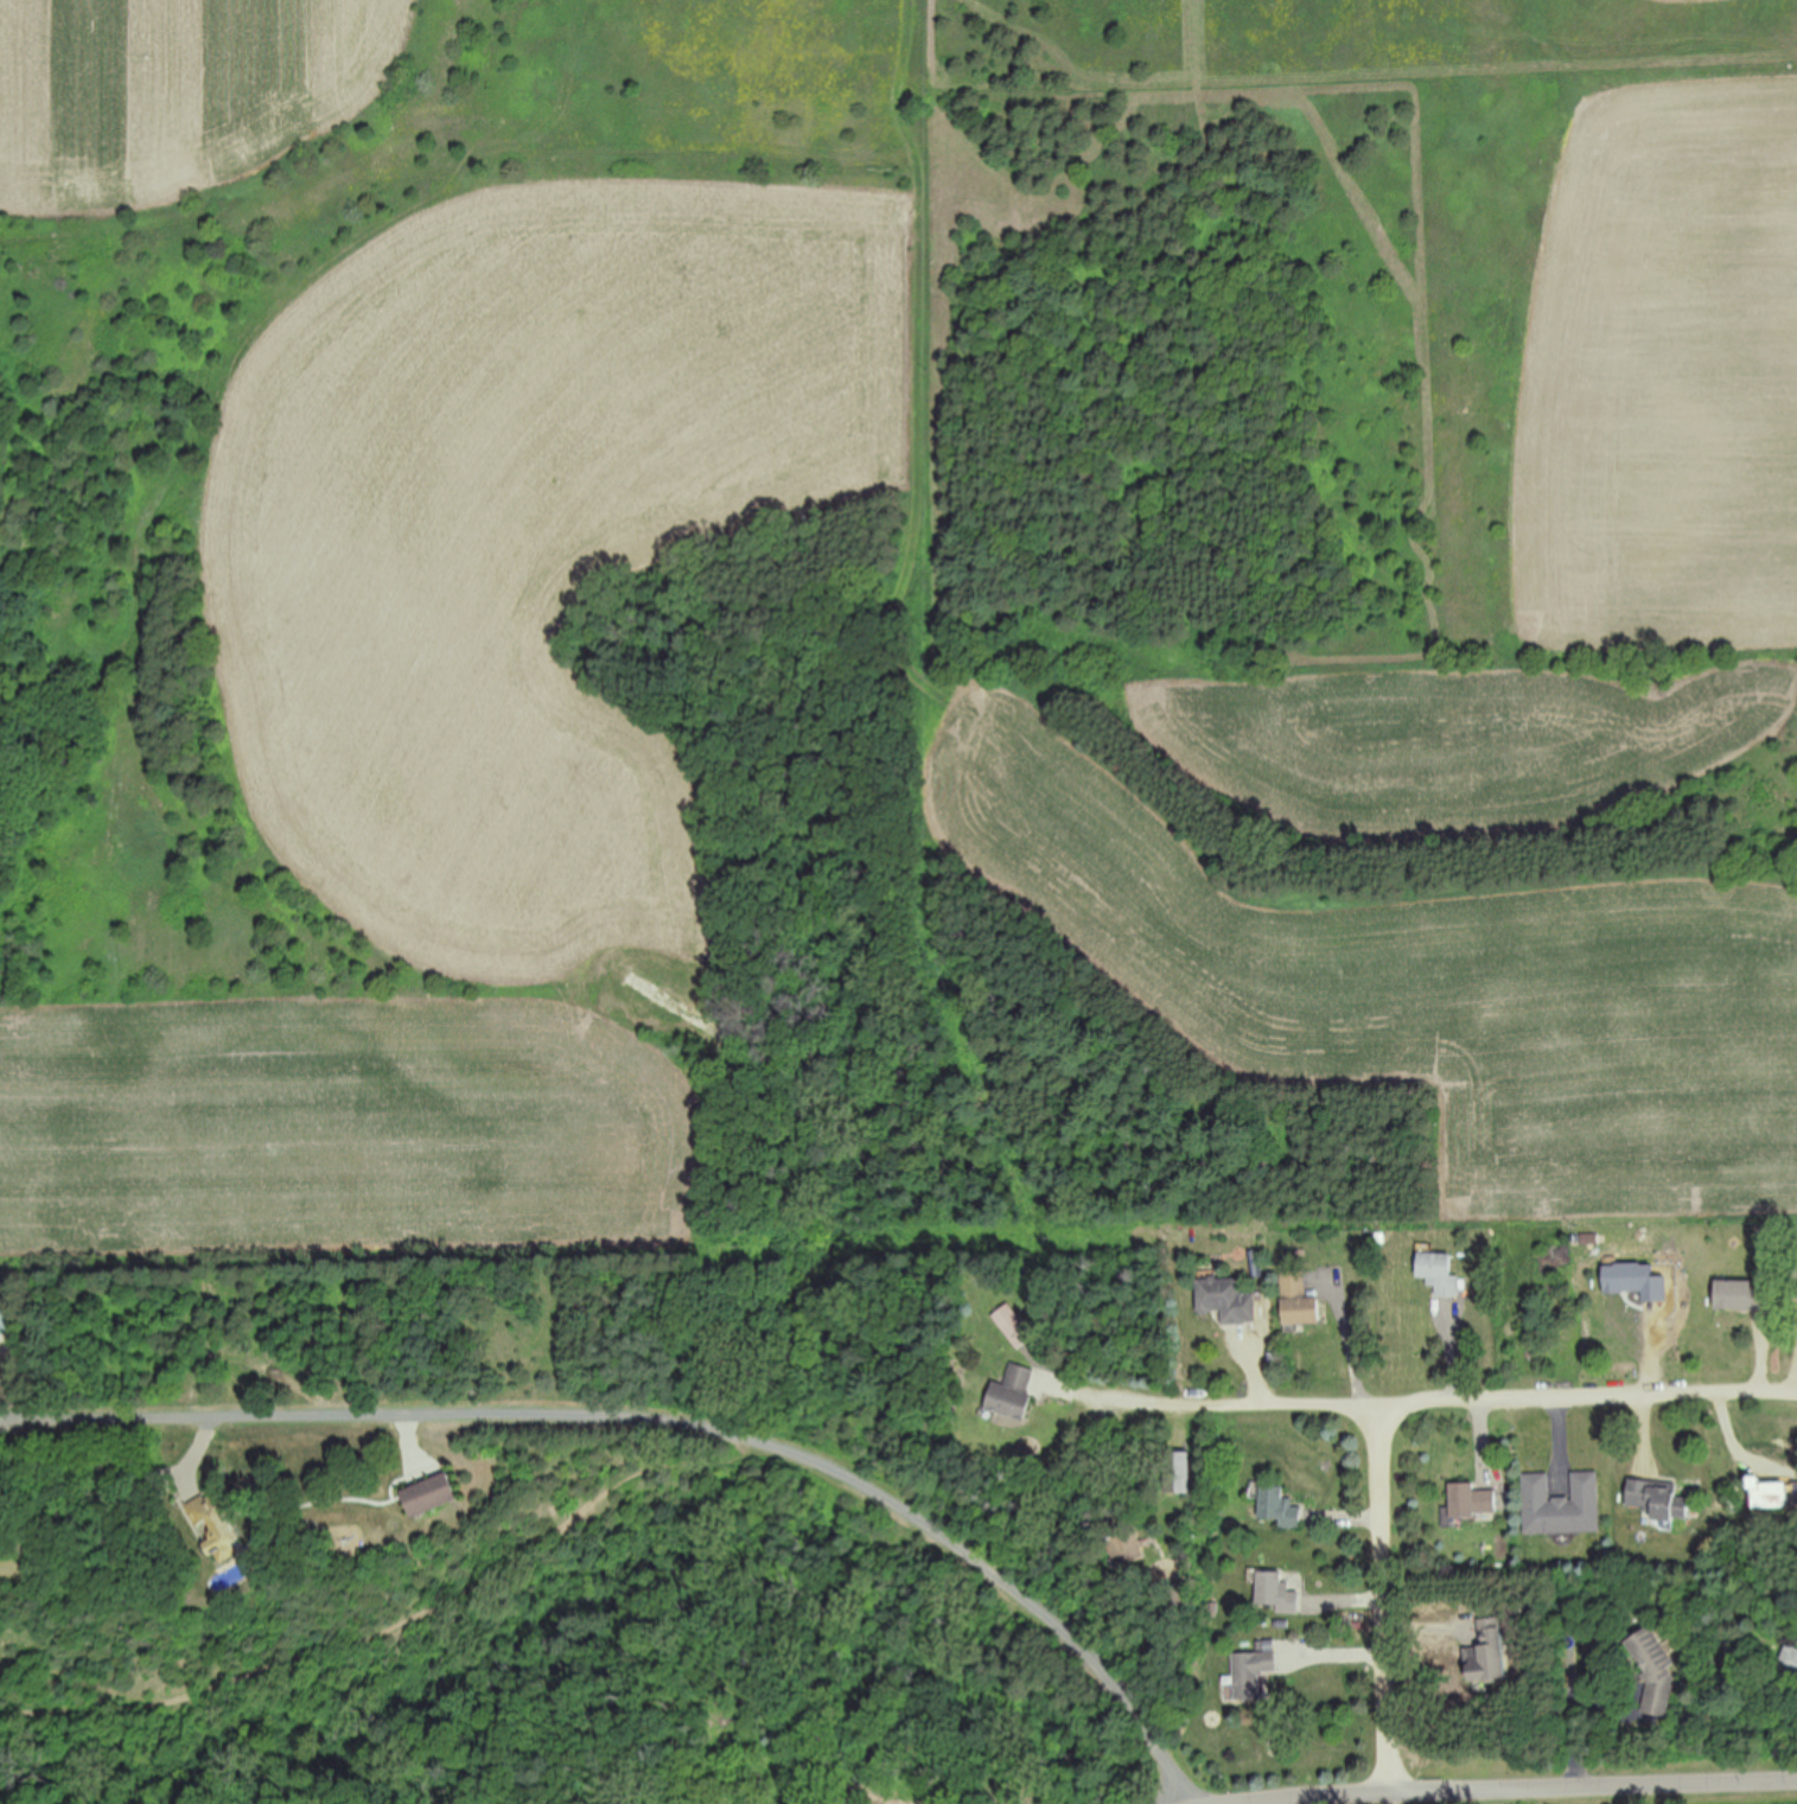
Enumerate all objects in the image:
crop: (454, 554)
crop: (1511, 633)
road: (1442, 1402)
road: (673, 1420)
road: (1387, 1601)
road: (1356, 1663)
road: (1541, 1790)

